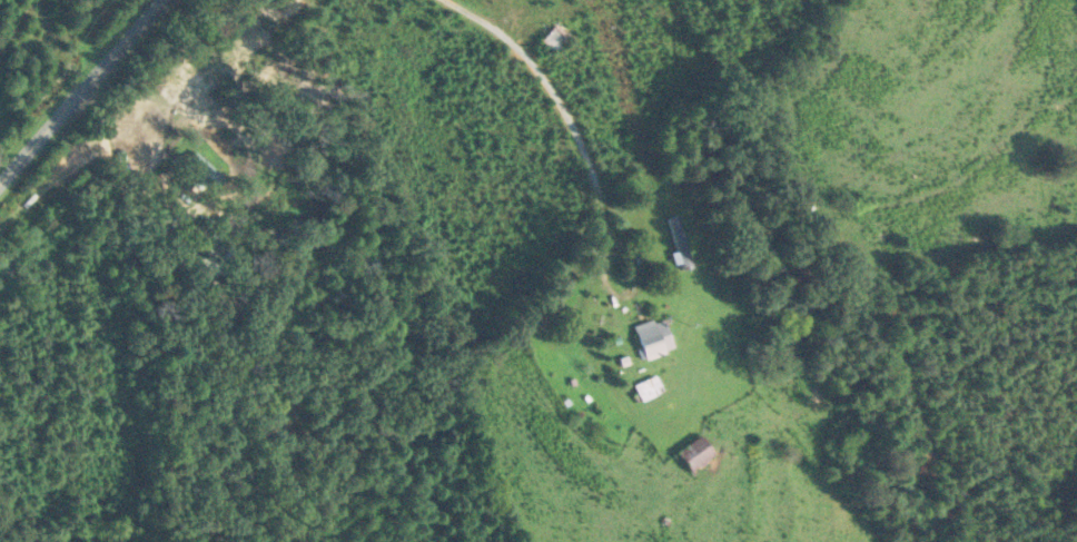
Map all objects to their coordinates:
building: (555, 37)
road: (551, 87)
road: (79, 89)
building: (201, 171)
building: (678, 243)
building: (6, 264)
building: (653, 337)
building: (550, 358)
building: (648, 387)
building: (698, 455)

